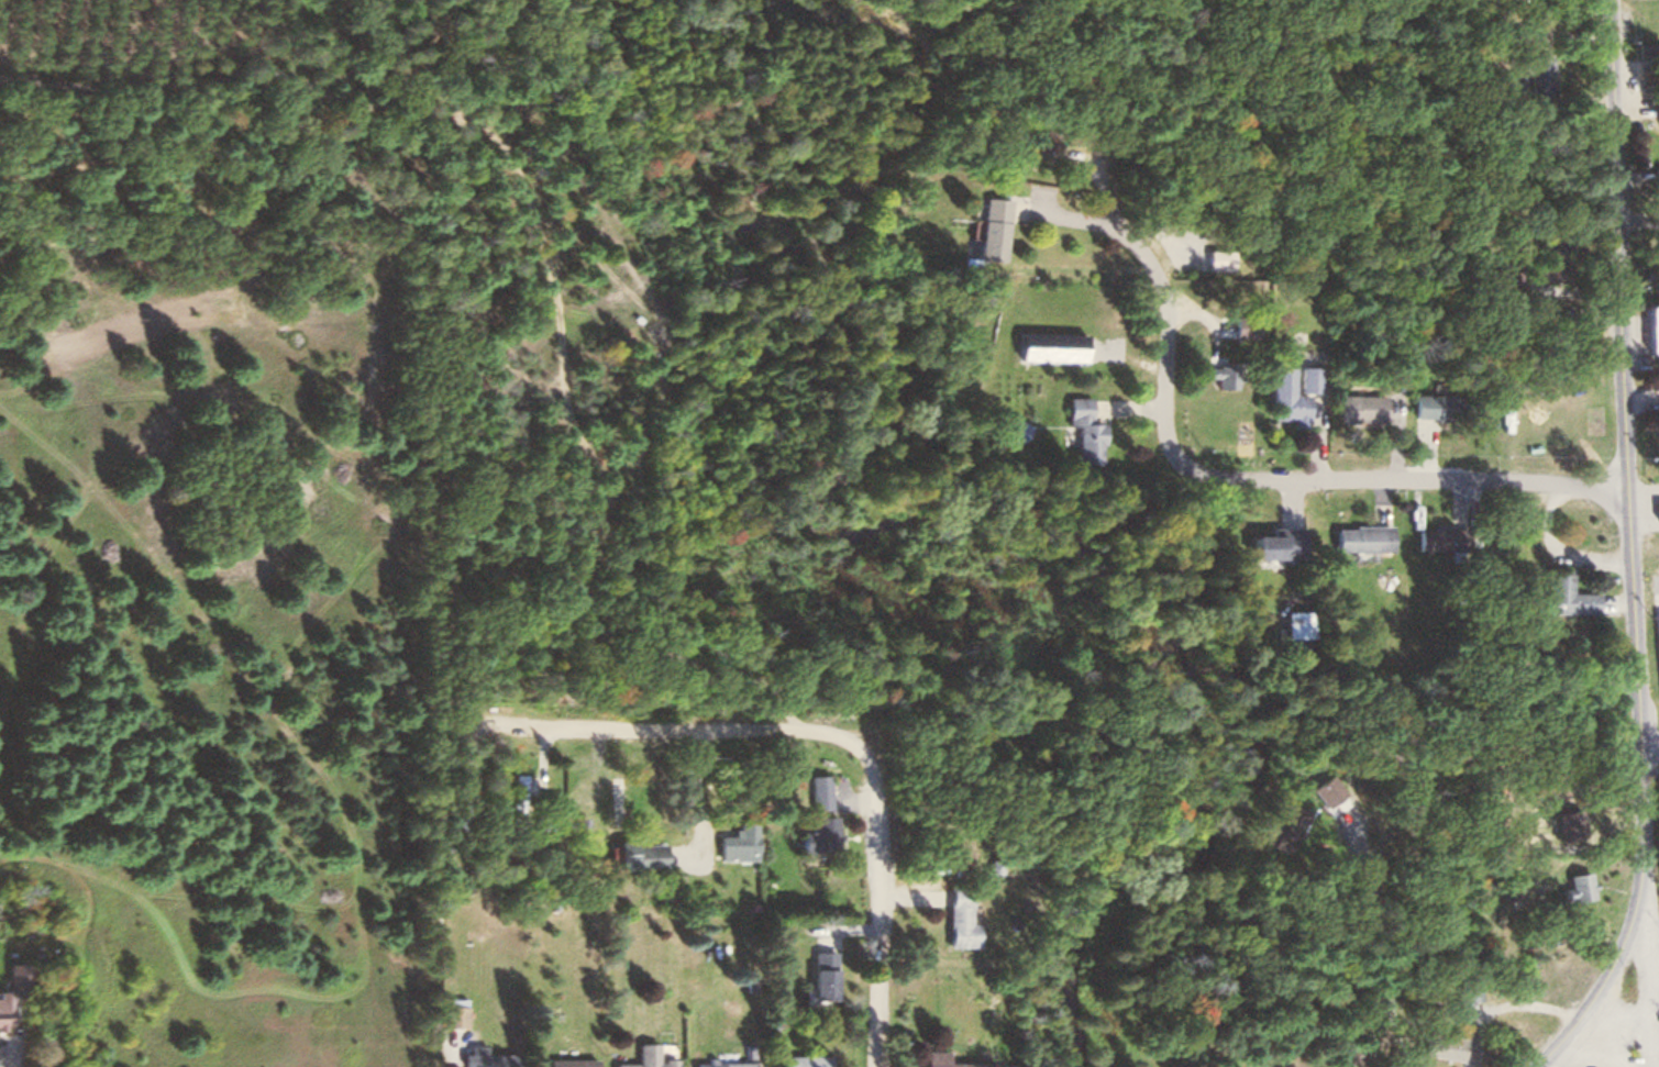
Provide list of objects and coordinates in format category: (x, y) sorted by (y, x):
building: (1645, 48)
building: (1534, 73)
building: (1652, 93)
building: (1652, 176)
building: (983, 230)
building: (1548, 243)
building: (1205, 258)
building: (1236, 327)
building: (1650, 327)
building: (1289, 392)
building: (1435, 403)
building: (1354, 408)
road: (1394, 429)
building: (1082, 430)
road: (1225, 480)
building: (1655, 509)
road: (1627, 533)
building: (1361, 536)
building: (1441, 537)
building: (1275, 542)
building: (1567, 596)
road: (827, 734)
building: (811, 790)
building: (1293, 822)
building: (810, 833)
building: (733, 841)
building: (631, 854)
building: (1573, 886)
road: (1230, 914)
building: (952, 919)
building: (816, 974)
road: (1602, 989)
building: (1464, 991)
building: (15, 993)
building: (457, 1013)
road: (1401, 1036)
building: (1439, 1044)
building: (933, 1055)
building: (641, 1057)
building: (489, 1059)
building: (797, 1060)
building: (567, 1062)
building: (718, 1064)

